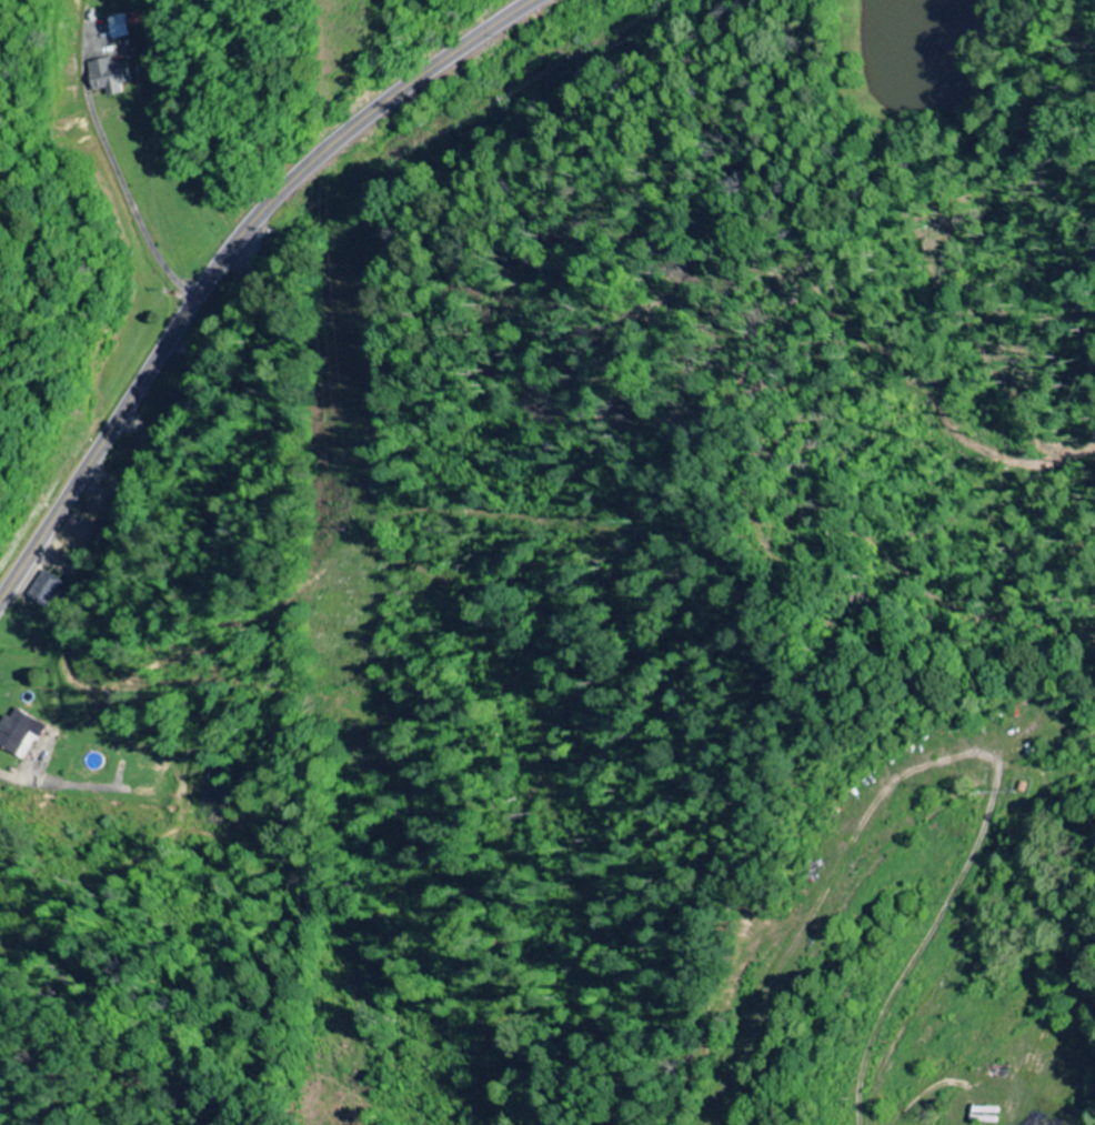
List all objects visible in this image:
building: (125, 26)
building: (112, 77)
road: (223, 260)
power tower: (340, 533)
building: (49, 589)
building: (24, 733)

